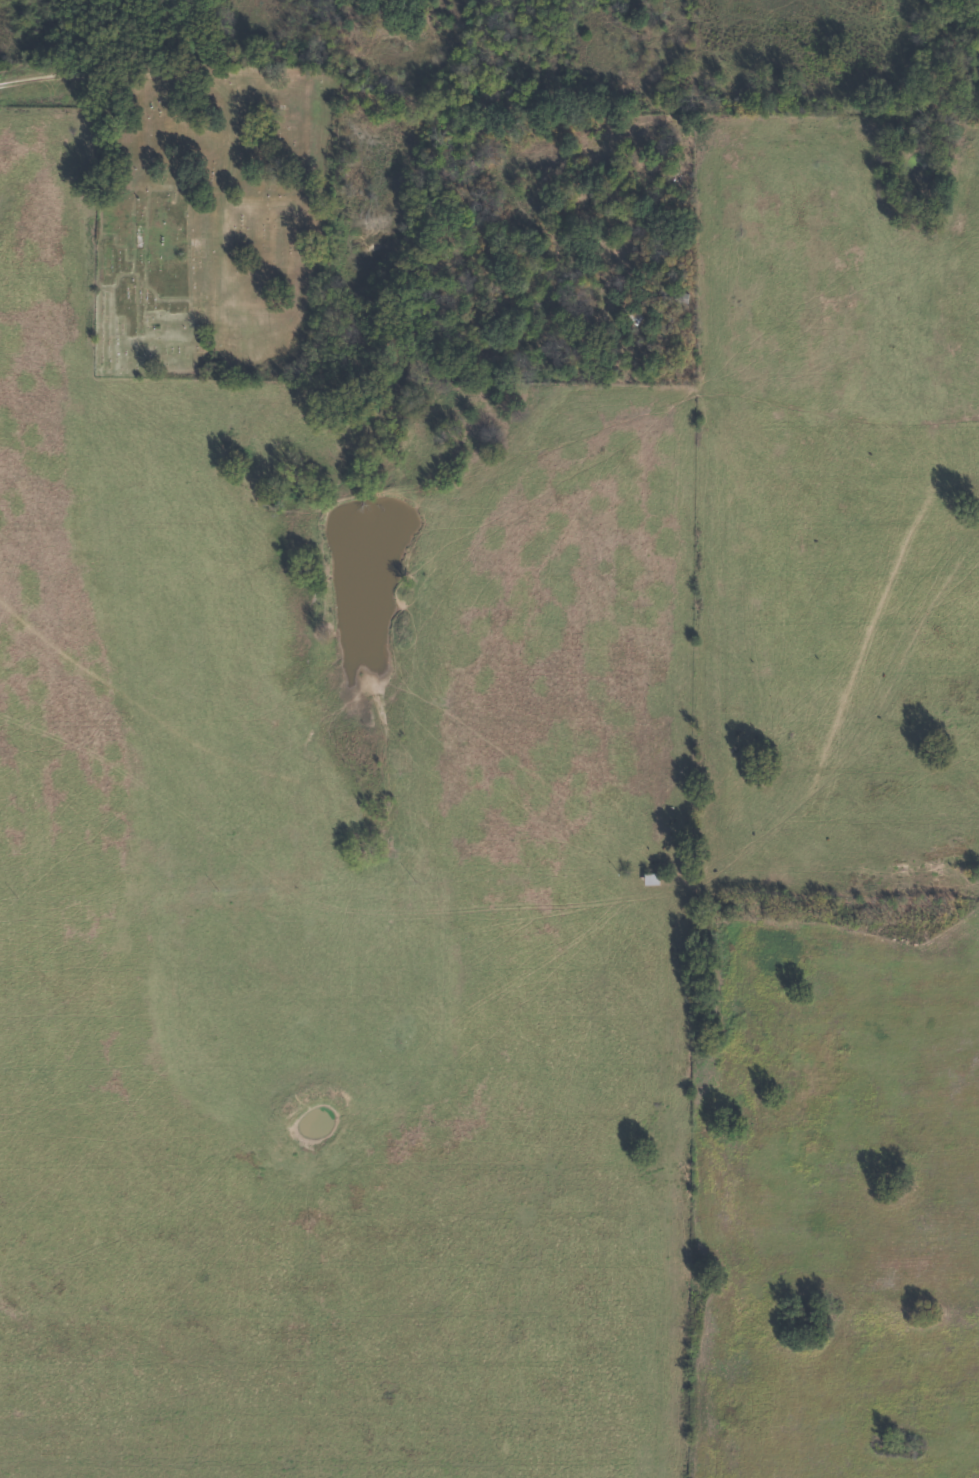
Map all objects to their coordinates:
road: (31, 78)
park: (212, 211)
building: (652, 879)

